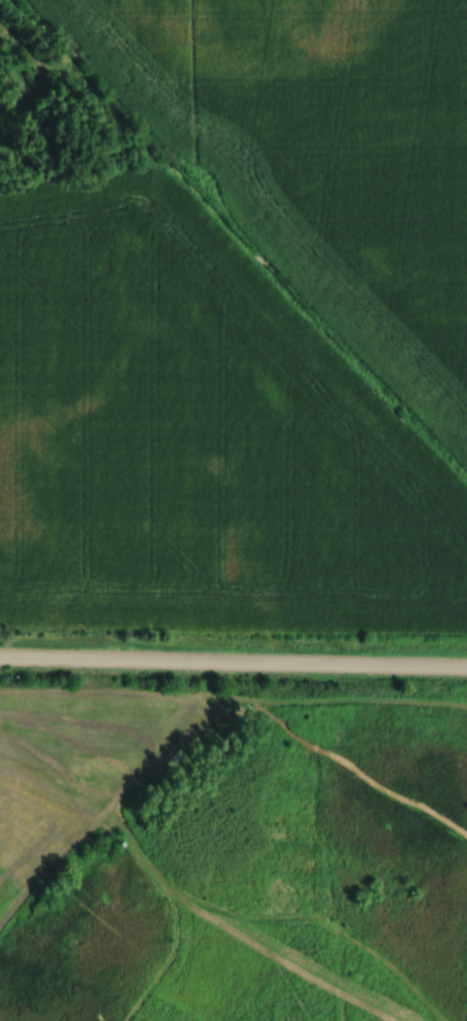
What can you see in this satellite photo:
road: (233, 661)

